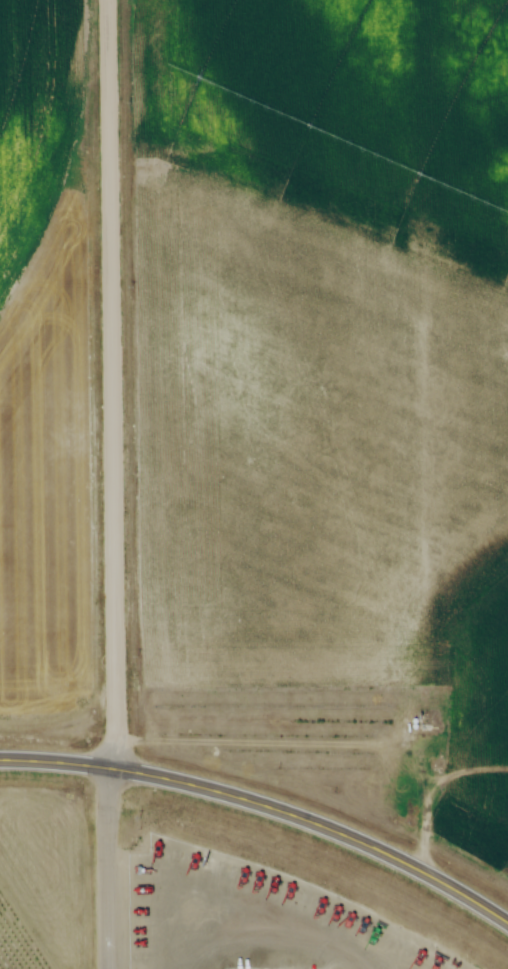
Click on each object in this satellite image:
road: (112, 383)
road: (57, 761)
road: (320, 823)
road: (107, 867)

